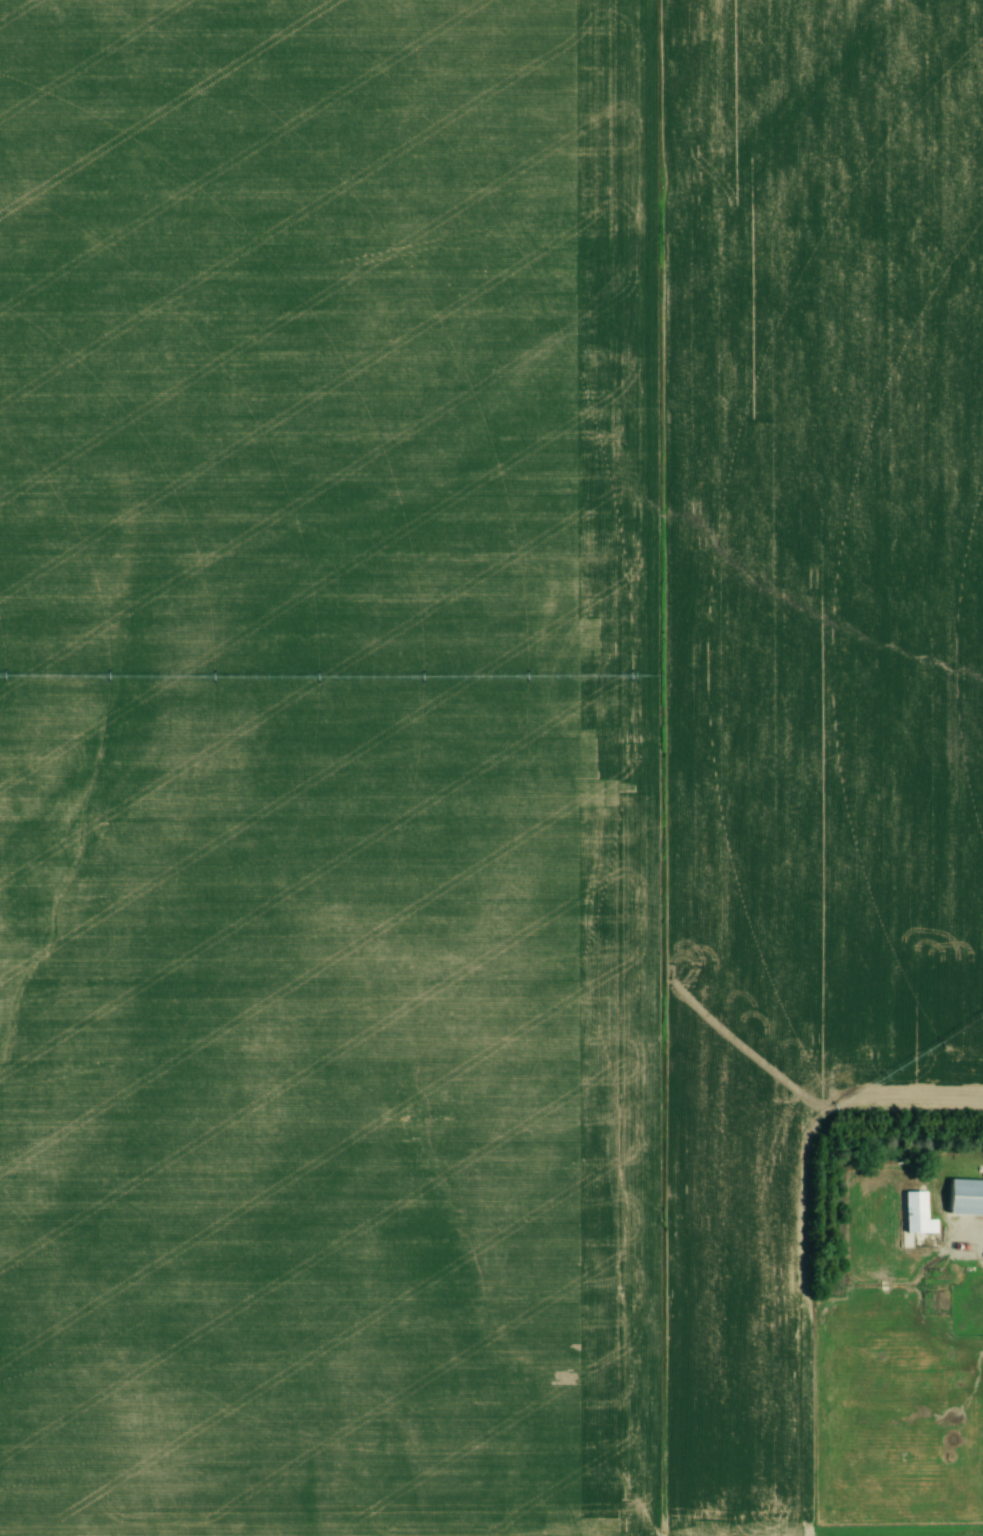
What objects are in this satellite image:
building: (965, 1198)
building: (916, 1215)

